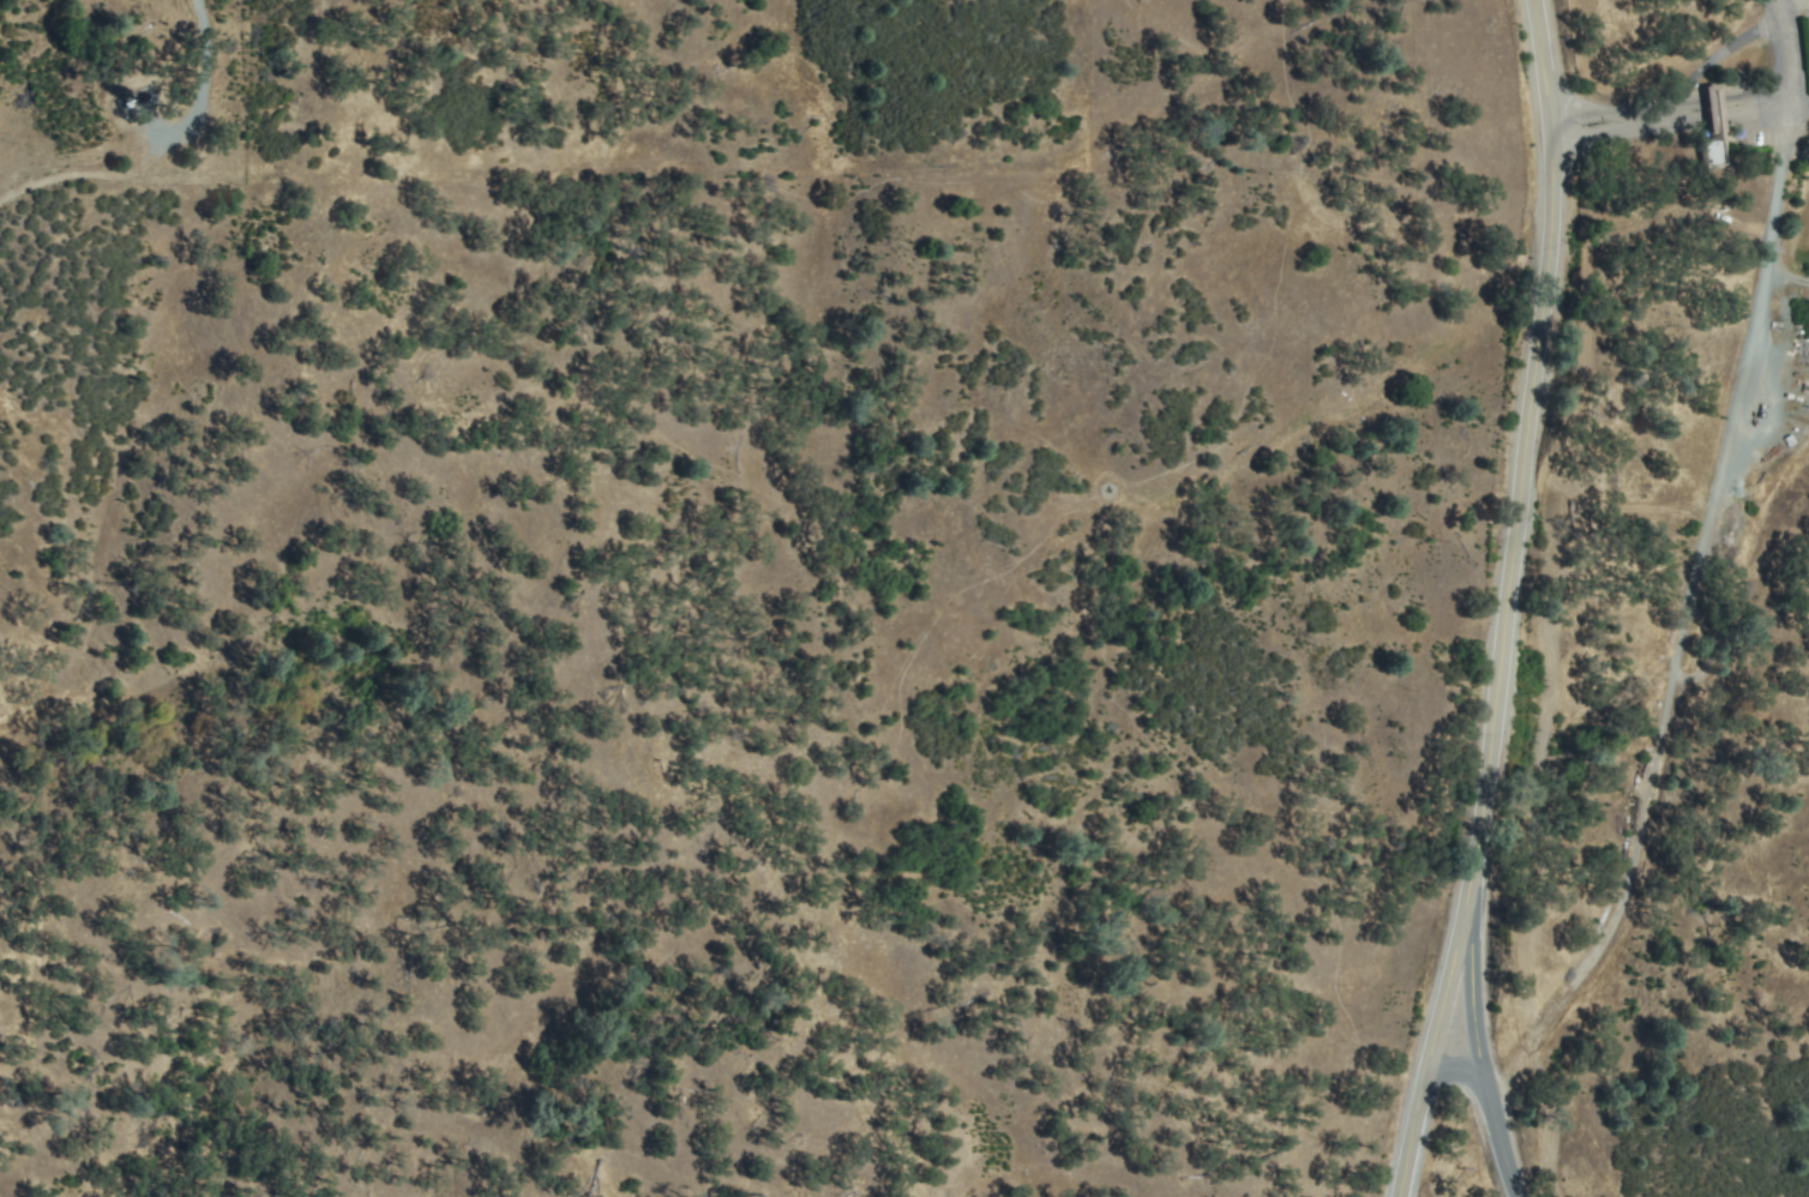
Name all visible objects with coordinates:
road: (204, 79)
road: (1682, 107)
building: (1715, 126)
road: (1677, 555)
road: (1501, 601)
road: (1494, 1111)

